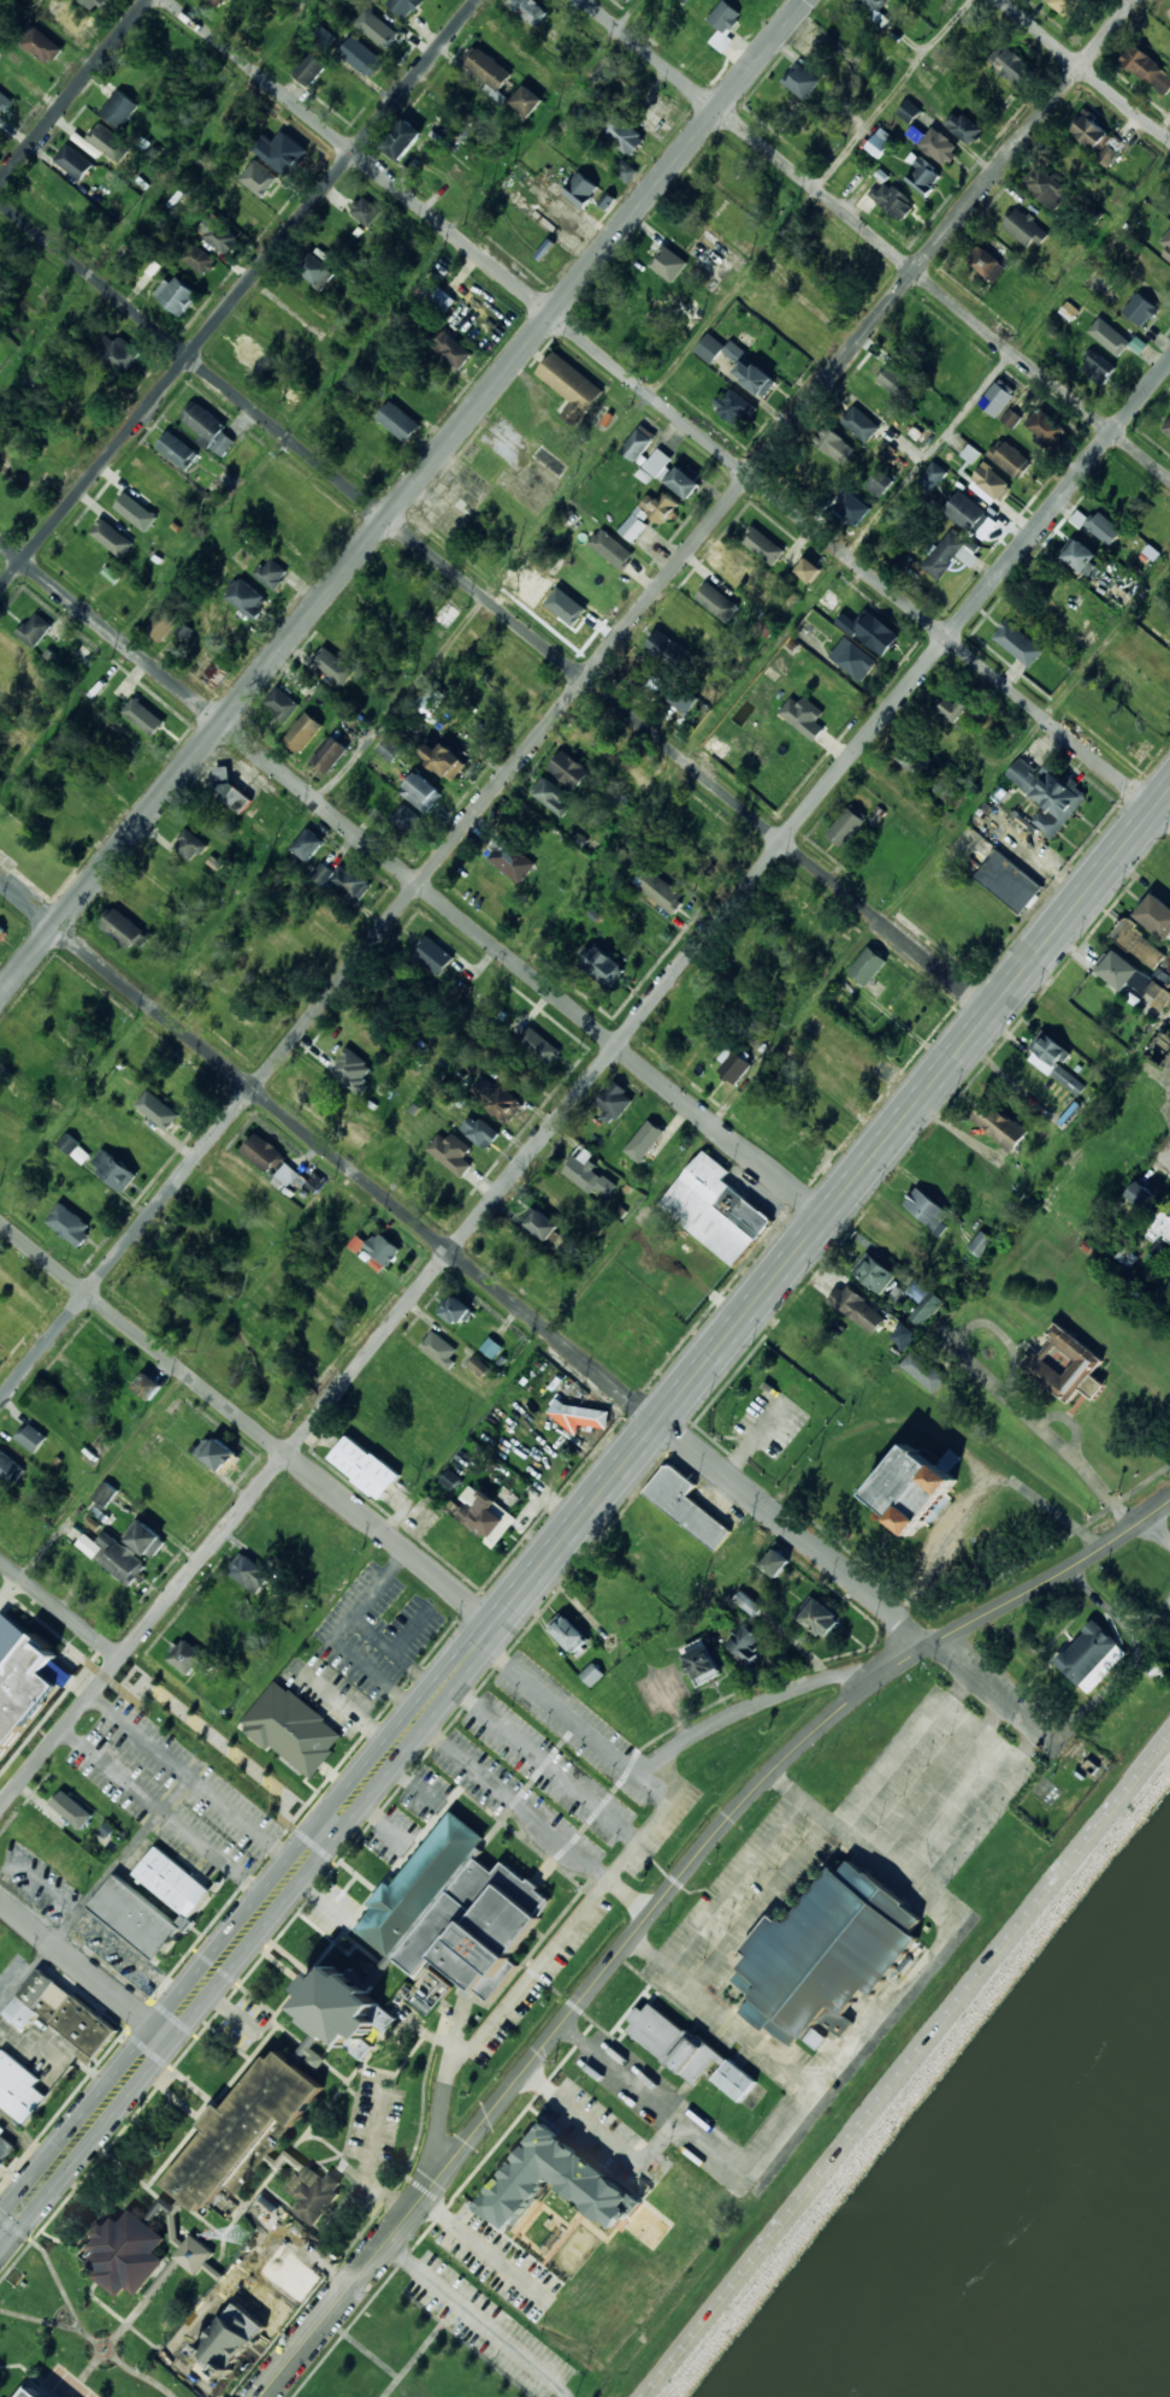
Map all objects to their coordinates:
building: (625, 0)
building: (93, 2)
building: (217, 2)
building: (402, 6)
building: (1066, 6)
building: (873, 7)
building: (528, 10)
building: (69, 14)
building: (723, 24)
building: (376, 28)
building: (323, 36)
building: (42, 46)
building: (361, 57)
building: (1009, 64)
building: (486, 66)
building: (309, 67)
road: (1085, 69)
building: (1147, 69)
building: (800, 81)
road: (72, 90)
building: (526, 100)
building: (4, 101)
building: (119, 107)
building: (908, 111)
building: (962, 126)
building: (1089, 131)
building: (621, 132)
building: (916, 134)
building: (403, 138)
building: (110, 141)
building: (879, 141)
building: (939, 146)
building: (279, 150)
building: (1107, 155)
building: (73, 160)
building: (626, 169)
building: (923, 176)
building: (258, 177)
building: (1044, 187)
building: (580, 189)
building: (892, 200)
building: (366, 211)
building: (1026, 228)
road: (128, 230)
building: (218, 234)
road: (876, 240)
building: (1164, 243)
building: (196, 258)
building: (668, 262)
building: (986, 262)
building: (315, 268)
building: (177, 294)
road: (238, 294)
building: (441, 299)
building: (1140, 309)
building: (1113, 337)
building: (717, 348)
building: (451, 349)
building: (117, 350)
building: (249, 354)
building: (1097, 367)
building: (754, 376)
building: (899, 383)
building: (569, 385)
road: (319, 395)
building: (997, 397)
building: (733, 406)
road: (669, 409)
building: (1010, 418)
building: (398, 420)
building: (859, 423)
building: (1042, 424)
building: (1166, 425)
building: (208, 427)
building: (638, 442)
building: (833, 444)
building: (177, 449)
building: (1010, 459)
building: (673, 474)
building: (932, 476)
building: (989, 479)
building: (880, 483)
road: (402, 497)
building: (661, 506)
building: (852, 507)
building: (136, 510)
building: (970, 515)
building: (1079, 516)
building: (636, 523)
building: (1103, 527)
building: (112, 537)
building: (762, 544)
building: (610, 548)
building: (942, 554)
building: (1082, 557)
building: (733, 569)
building: (806, 569)
building: (271, 572)
building: (247, 598)
road: (485, 600)
building: (717, 602)
road: (496, 606)
building: (569, 613)
building: (162, 622)
building: (34, 628)
building: (870, 631)
building: (1017, 642)
building: (667, 647)
building: (852, 657)
building: (333, 665)
building: (215, 673)
building: (430, 698)
road: (567, 699)
building: (684, 699)
building: (280, 703)
building: (953, 708)
building: (803, 715)
building: (143, 716)
building: (968, 720)
building: (302, 732)
building: (388, 749)
building: (330, 754)
building: (914, 758)
building: (443, 760)
building: (568, 769)
building: (945, 787)
building: (227, 789)
building: (421, 792)
building: (1047, 793)
building: (552, 796)
building: (403, 817)
building: (845, 826)
building: (189, 844)
building: (307, 844)
building: (510, 860)
building: (323, 874)
road: (412, 878)
building: (351, 880)
building: (1007, 880)
road: (585, 882)
building: (662, 892)
building: (1156, 915)
building: (124, 929)
building: (1, 931)
building: (1139, 944)
building: (433, 955)
building: (601, 966)
building: (867, 966)
building: (1129, 973)
building: (1159, 994)
building: (538, 1045)
building: (1159, 1049)
building: (1053, 1061)
building: (733, 1064)
building: (351, 1070)
road: (585, 1086)
building: (495, 1097)
building: (614, 1102)
building: (158, 1109)
building: (998, 1124)
building: (479, 1130)
building: (644, 1140)
building: (73, 1147)
building: (262, 1152)
building: (451, 1152)
road: (1163, 1156)
building: (114, 1169)
building: (587, 1173)
building: (289, 1176)
building: (314, 1182)
building: (1141, 1193)
building: (715, 1209)
building: (927, 1209)
building: (69, 1224)
building: (542, 1224)
building: (1160, 1226)
building: (980, 1242)
building: (382, 1250)
building: (874, 1273)
road: (584, 1288)
building: (922, 1301)
road: (520, 1305)
building: (858, 1307)
building: (454, 1309)
building: (904, 1335)
building: (491, 1347)
building: (439, 1348)
building: (1066, 1364)
building: (923, 1370)
building: (147, 1386)
building: (579, 1415)
road: (248, 1421)
building: (31, 1437)
building: (215, 1453)
building: (364, 1466)
building: (8, 1468)
building: (450, 1478)
building: (914, 1487)
building: (106, 1494)
building: (686, 1505)
building: (484, 1512)
road: (585, 1512)
building: (144, 1537)
building: (114, 1555)
building: (774, 1561)
building: (248, 1572)
road: (1032, 1584)
building: (747, 1604)
building: (820, 1616)
building: (567, 1631)
building: (744, 1642)
building: (1091, 1655)
building: (191, 1659)
building: (701, 1664)
building: (60, 1673)
building: (592, 1673)
building: (20, 1679)
road: (165, 1693)
road: (768, 1702)
building: (291, 1728)
building: (71, 1808)
building: (120, 1897)
building: (455, 1909)
road: (652, 1913)
building: (825, 1955)
road: (81, 1966)
building: (60, 2012)
building: (341, 2014)
building: (672, 2042)
road: (908, 2067)
building: (734, 2079)
building: (18, 2088)
road: (447, 2090)
building: (255, 2141)
building: (5, 2148)
building: (556, 2181)
traffic signals: (16, 2216)
road: (0, 2233)
road: (0, 2234)
building: (125, 2253)
road: (347, 2289)
building: (240, 2303)
building: (31, 2392)

